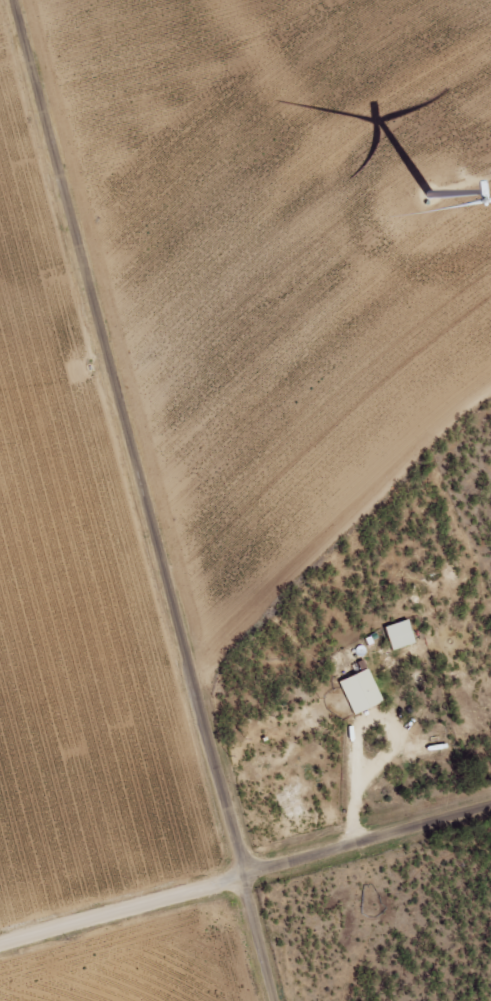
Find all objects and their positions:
wind turbine: (429, 194)
road: (128, 517)
building: (356, 693)
road: (245, 872)

